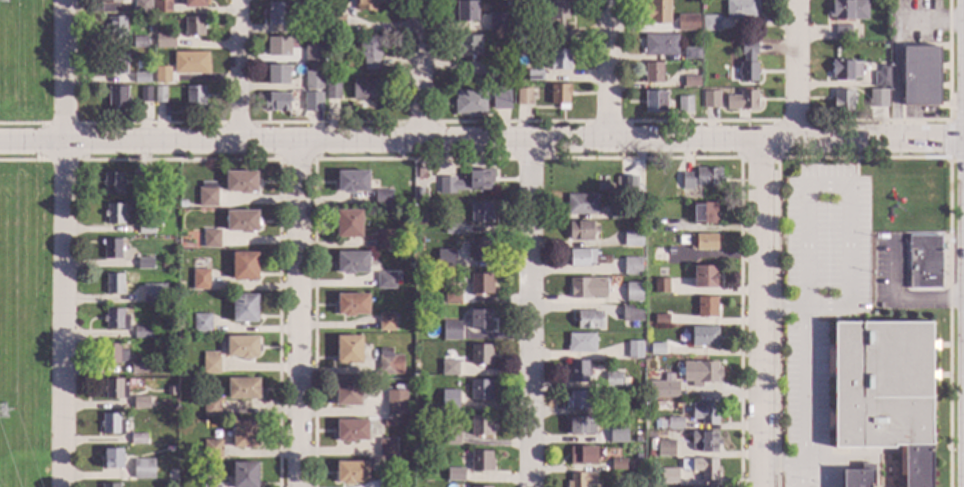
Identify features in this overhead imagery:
building: (110, 1)
building: (194, 4)
building: (367, 5)
building: (162, 6)
building: (142, 7)
building: (741, 9)
building: (848, 10)
building: (466, 11)
building: (658, 12)
building: (280, 14)
building: (559, 20)
building: (177, 22)
building: (497, 23)
building: (687, 23)
building: (710, 23)
building: (335, 24)
building: (116, 26)
building: (193, 27)
building: (313, 27)
building: (842, 33)
building: (521, 40)
building: (139, 42)
building: (166, 42)
building: (660, 45)
building: (278, 46)
building: (469, 46)
building: (884, 47)
building: (516, 52)
building: (313, 53)
building: (369, 53)
building: (691, 55)
building: (557, 61)
building: (748, 62)
building: (190, 63)
building: (116, 64)
building: (139, 65)
road: (424, 69)
road: (237, 70)
road: (609, 70)
road: (798, 70)
building: (845, 70)
building: (494, 71)
building: (326, 72)
building: (653, 73)
building: (277, 75)
building: (534, 75)
building: (881, 77)
building: (921, 77)
building: (141, 78)
building: (161, 79)
building: (313, 80)
building: (690, 82)
building: (365, 89)
building: (332, 92)
building: (160, 94)
building: (145, 95)
building: (194, 96)
building: (560, 96)
building: (881, 96)
building: (117, 97)
building: (523, 97)
building: (500, 100)
building: (711, 100)
building: (742, 101)
building: (843, 101)
building: (276, 102)
building: (313, 102)
building: (654, 102)
building: (470, 103)
building: (684, 104)
building: (359, 106)
road: (481, 139)
building: (701, 178)
building: (139, 181)
building: (240, 182)
building: (351, 182)
building: (467, 182)
building: (111, 183)
building: (625, 183)
building: (601, 186)
road: (844, 190)
building: (207, 195)
building: (416, 197)
building: (382, 198)
building: (182, 204)
building: (581, 204)
building: (616, 213)
building: (703, 213)
building: (114, 214)
building: (480, 214)
building: (241, 221)
building: (348, 224)
building: (170, 227)
building: (451, 228)
building: (648, 228)
building: (145, 229)
building: (582, 230)
building: (632, 238)
building: (211, 239)
building: (383, 239)
building: (703, 242)
road: (65, 243)
building: (480, 249)
building: (111, 250)
building: (658, 255)
building: (445, 258)
building: (580, 258)
building: (351, 262)
building: (924, 262)
building: (144, 264)
building: (244, 266)
building: (631, 266)
building: (398, 277)
building: (704, 277)
building: (200, 279)
building: (385, 281)
building: (114, 284)
building: (481, 284)
building: (660, 286)
building: (587, 287)
building: (633, 292)
building: (154, 294)
building: (452, 296)
road: (904, 298)
building: (415, 302)
building: (352, 304)
building: (707, 307)
building: (244, 308)
road: (532, 313)
building: (631, 313)
road: (760, 313)
road: (299, 314)
building: (480, 319)
building: (661, 319)
building: (115, 320)
building: (589, 320)
building: (386, 322)
building: (202, 324)
building: (451, 331)
building: (142, 333)
building: (703, 336)
building: (580, 343)
building: (242, 347)
building: (348, 350)
building: (634, 350)
building: (658, 351)
building: (113, 354)
building: (480, 355)
building: (210, 363)
building: (389, 363)
building: (139, 366)
building: (449, 368)
building: (578, 372)
building: (700, 373)
building: (613, 380)
building: (169, 381)
road: (805, 385)
building: (115, 389)
building: (243, 389)
building: (480, 390)
building: (664, 390)
building: (347, 392)
building: (885, 392)
building: (449, 399)
building: (581, 399)
building: (140, 403)
building: (396, 403)
building: (211, 407)
building: (605, 411)
building: (705, 413)
building: (616, 419)
building: (387, 423)
building: (675, 423)
building: (112, 424)
building: (663, 424)
building: (578, 425)
building: (480, 426)
building: (351, 431)
building: (244, 434)
building: (617, 434)
building: (451, 437)
building: (138, 439)
building: (637, 439)
building: (420, 441)
building: (705, 441)
building: (387, 448)
building: (168, 449)
building: (212, 449)
building: (666, 449)
building: (651, 453)
building: (580, 454)
building: (637, 456)
building: (112, 459)
building: (481, 461)
building: (617, 465)
building: (702, 467)
building: (143, 469)
road: (820, 469)
building: (351, 472)
building: (244, 475)
building: (455, 475)
road: (797, 475)
building: (667, 476)
building: (859, 476)
building: (581, 479)
building: (387, 484)
building: (109, 485)
building: (211, 486)
building: (489, 486)
building: (717, 486)

